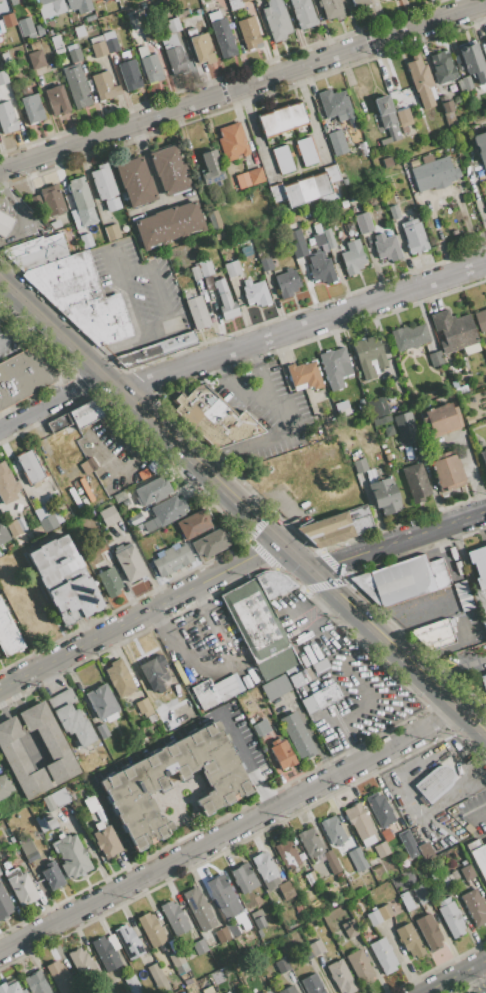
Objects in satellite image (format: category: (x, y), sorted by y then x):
building: (0, 0)
building: (105, 0)
building: (243, 0)
building: (380, 0)
building: (14, 1)
building: (42, 1)
building: (360, 3)
building: (77, 4)
building: (235, 5)
building: (52, 8)
building: (332, 9)
building: (198, 11)
building: (184, 13)
building: (303, 13)
building: (8, 20)
building: (276, 20)
building: (173, 24)
building: (26, 27)
building: (1, 29)
building: (39, 29)
building: (79, 30)
building: (191, 31)
building: (248, 32)
building: (222, 34)
building: (485, 39)
building: (110, 42)
building: (161, 42)
building: (57, 43)
building: (201, 48)
building: (98, 49)
building: (142, 51)
building: (74, 52)
building: (6, 57)
building: (36, 59)
building: (177, 59)
building: (472, 60)
building: (485, 61)
building: (442, 67)
building: (151, 68)
building: (130, 75)
building: (3, 77)
building: (421, 82)
building: (464, 83)
building: (77, 85)
building: (104, 86)
road: (243, 86)
building: (57, 100)
building: (335, 104)
building: (447, 106)
building: (32, 107)
road: (309, 113)
building: (7, 118)
building: (282, 119)
building: (386, 119)
building: (404, 119)
road: (253, 129)
building: (232, 142)
building: (336, 142)
building: (361, 149)
building: (480, 149)
building: (306, 151)
building: (282, 159)
building: (387, 162)
building: (210, 167)
building: (169, 170)
building: (432, 172)
building: (331, 173)
building: (249, 178)
building: (344, 178)
building: (103, 182)
building: (135, 182)
building: (321, 185)
building: (305, 188)
building: (276, 192)
building: (291, 194)
building: (485, 194)
building: (352, 198)
building: (52, 200)
building: (81, 200)
building: (371, 200)
building: (36, 201)
building: (344, 202)
road: (2, 203)
building: (394, 212)
road: (2, 214)
building: (213, 218)
building: (5, 223)
building: (363, 223)
building: (54, 224)
building: (169, 225)
building: (348, 226)
building: (112, 232)
building: (317, 235)
building: (219, 236)
building: (413, 236)
building: (329, 238)
building: (70, 239)
building: (86, 240)
building: (296, 242)
building: (386, 244)
building: (245, 249)
building: (37, 251)
building: (352, 258)
building: (266, 263)
building: (205, 267)
building: (320, 268)
building: (231, 269)
road: (121, 272)
building: (195, 272)
building: (286, 282)
building: (255, 292)
building: (186, 294)
building: (82, 297)
building: (224, 300)
road: (129, 306)
road: (166, 312)
building: (197, 312)
building: (480, 319)
road: (301, 325)
road: (20, 327)
building: (454, 330)
building: (409, 336)
road: (113, 347)
building: (156, 348)
building: (471, 349)
building: (369, 356)
building: (435, 358)
building: (334, 367)
building: (28, 373)
road: (263, 373)
building: (303, 375)
building: (456, 386)
road: (237, 391)
parking lot: (260, 393)
road: (52, 402)
building: (483, 403)
building: (379, 406)
building: (342, 408)
road: (138, 409)
building: (87, 412)
building: (441, 418)
building: (215, 419)
building: (381, 420)
building: (57, 423)
building: (406, 427)
building: (389, 430)
building: (289, 438)
road: (255, 443)
building: (408, 452)
building: (388, 457)
building: (483, 458)
building: (284, 462)
building: (88, 464)
building: (155, 464)
road: (128, 465)
building: (359, 465)
building: (30, 466)
building: (447, 470)
building: (252, 474)
building: (415, 481)
building: (7, 485)
building: (48, 486)
building: (152, 491)
building: (383, 493)
building: (119, 496)
building: (75, 499)
building: (22, 501)
building: (125, 502)
building: (71, 503)
building: (41, 511)
building: (165, 513)
building: (108, 515)
building: (135, 519)
building: (50, 521)
building: (193, 524)
building: (138, 527)
building: (336, 527)
building: (16, 532)
building: (3, 533)
road: (398, 540)
traffic signals: (278, 542)
building: (211, 543)
building: (11, 547)
building: (104, 548)
building: (0, 555)
road: (293, 556)
building: (12, 559)
building: (171, 559)
building: (129, 562)
road: (144, 563)
building: (4, 564)
building: (478, 565)
traffic signals: (310, 570)
building: (64, 580)
building: (402, 580)
building: (109, 582)
building: (463, 596)
building: (32, 614)
road: (138, 615)
building: (261, 622)
building: (483, 625)
building: (8, 634)
building: (433, 634)
road: (384, 640)
building: (306, 662)
building: (319, 665)
road: (456, 669)
building: (153, 672)
building: (290, 672)
building: (308, 673)
building: (119, 678)
building: (297, 678)
building: (218, 681)
building: (171, 682)
building: (483, 683)
gas station: (483, 683)
building: (275, 687)
building: (229, 688)
building: (204, 694)
building: (321, 698)
building: (102, 702)
building: (145, 709)
building: (70, 718)
road: (472, 723)
building: (261, 728)
building: (102, 730)
building: (297, 735)
building: (50, 742)
building: (281, 753)
building: (77, 756)
building: (20, 760)
road: (245, 760)
building: (455, 766)
building: (434, 783)
building: (6, 785)
building: (135, 786)
building: (57, 798)
building: (379, 809)
road: (479, 814)
building: (449, 821)
building: (45, 822)
building: (360, 823)
building: (468, 829)
road: (229, 830)
building: (332, 830)
building: (386, 834)
building: (51, 835)
building: (105, 840)
building: (406, 840)
building: (310, 842)
building: (431, 842)
building: (381, 849)
building: (28, 850)
building: (425, 850)
building: (287, 854)
building: (71, 855)
building: (478, 856)
building: (357, 859)
building: (331, 862)
building: (264, 866)
building: (0, 872)
building: (466, 872)
building: (52, 875)
building: (340, 876)
building: (244, 878)
building: (311, 878)
building: (440, 878)
building: (34, 883)
building: (20, 886)
building: (286, 890)
building: (420, 894)
building: (226, 900)
building: (406, 901)
building: (4, 903)
building: (473, 907)
building: (199, 908)
building: (249, 909)
building: (298, 909)
building: (385, 911)
building: (256, 913)
building: (158, 916)
building: (373, 917)
building: (450, 917)
building: (174, 918)
building: (259, 922)
building: (349, 928)
building: (151, 930)
building: (429, 931)
building: (223, 934)
building: (409, 940)
building: (128, 942)
building: (200, 946)
building: (316, 947)
building: (106, 953)
building: (304, 953)
building: (383, 955)
building: (81, 961)
building: (178, 963)
building: (282, 965)
road: (483, 965)
building: (360, 967)
building: (60, 976)
building: (289, 976)
building: (340, 976)
road: (453, 976)
building: (156, 977)
road: (477, 979)
building: (36, 982)
building: (131, 983)
building: (311, 984)
building: (177, 986)
building: (296, 986)
building: (11, 988)
building: (209, 989)
building: (106, 990)
building: (287, 990)
building: (72, 991)
building: (181, 992)
building: (226, 992)
building: (478, 992)

